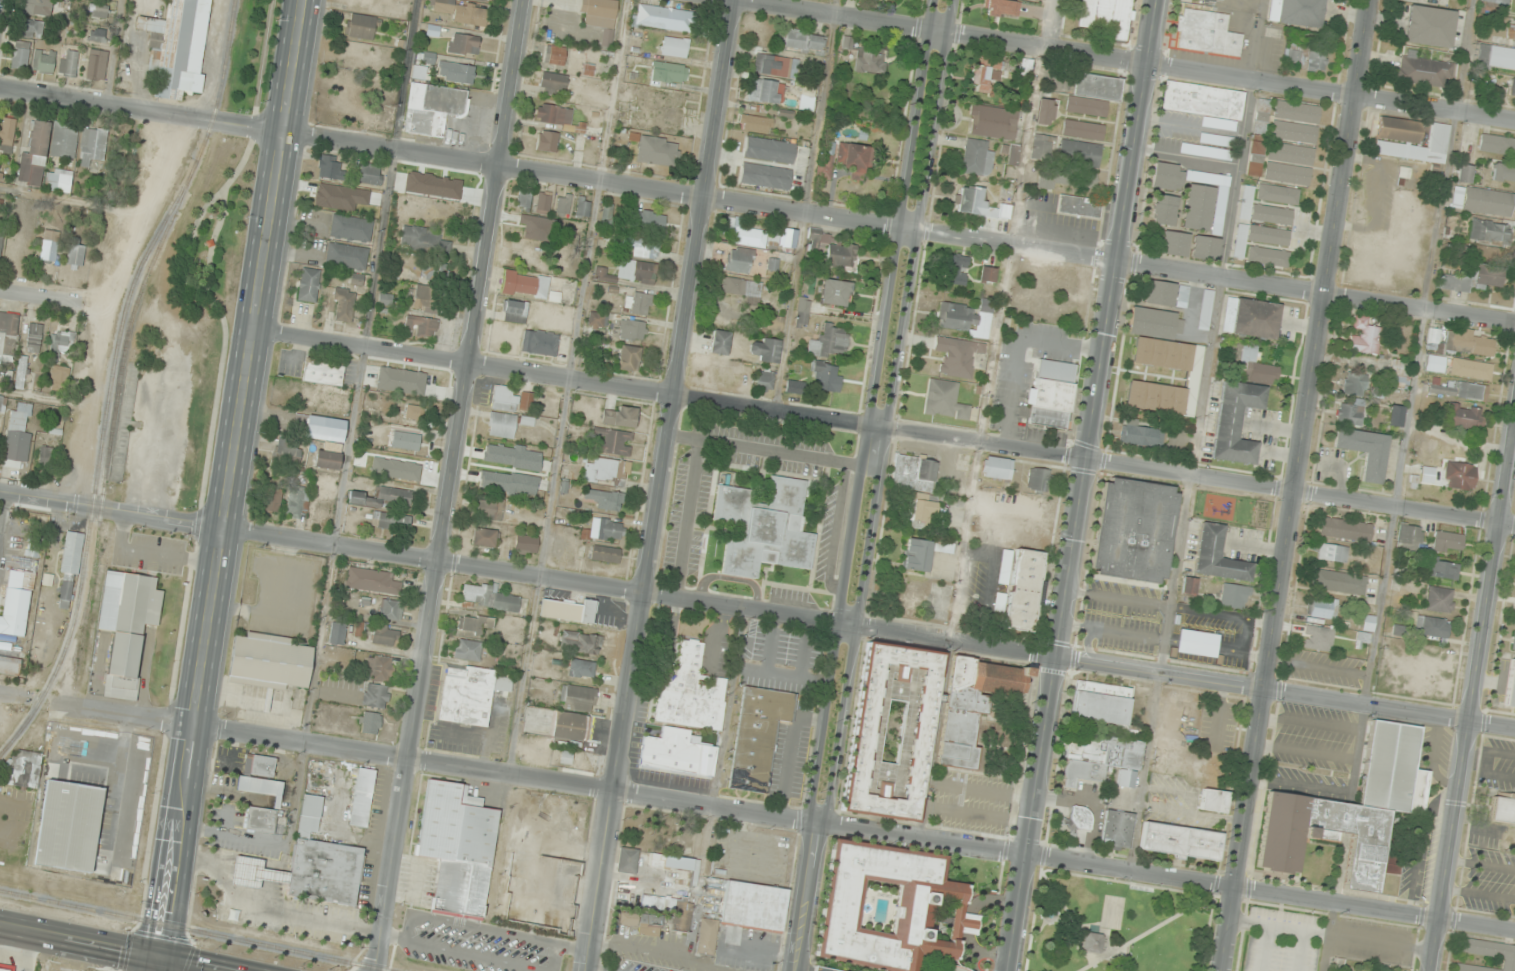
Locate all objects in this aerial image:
building: (484, 0)
building: (1212, 0)
building: (1497, 2)
building: (37, 7)
building: (98, 10)
building: (464, 12)
building: (1297, 13)
building: (600, 16)
building: (1107, 17)
building: (663, 18)
building: (360, 26)
building: (1429, 26)
building: (31, 29)
building: (1511, 32)
building: (1206, 33)
building: (98, 35)
building: (802, 40)
building: (847, 43)
building: (463, 44)
building: (177, 47)
building: (675, 47)
building: (20, 54)
building: (555, 55)
building: (427, 57)
building: (1304, 57)
building: (1496, 57)
road: (1118, 60)
building: (43, 61)
building: (870, 61)
building: (68, 62)
building: (96, 64)
building: (775, 66)
building: (1422, 71)
building: (419, 72)
building: (456, 72)
building: (668, 73)
building: (983, 79)
building: (553, 81)
building: (1512, 87)
building: (766, 92)
building: (1094, 94)
building: (1203, 102)
building: (433, 108)
building: (1045, 111)
building: (1296, 112)
building: (556, 116)
building: (992, 122)
building: (754, 123)
building: (1083, 130)
building: (1293, 132)
building: (7, 134)
building: (64, 140)
building: (1215, 140)
building: (1410, 140)
building: (548, 141)
building: (1043, 142)
building: (1497, 144)
building: (1272, 145)
building: (92, 146)
building: (768, 149)
building: (656, 150)
building: (35, 153)
building: (1079, 153)
building: (1012, 156)
building: (976, 158)
building: (844, 159)
building: (329, 167)
building: (1504, 172)
building: (1287, 173)
building: (1464, 173)
building: (370, 176)
building: (765, 176)
building: (1167, 177)
building: (1065, 178)
building: (1406, 178)
building: (58, 180)
building: (435, 184)
building: (1277, 194)
building: (325, 198)
building: (525, 200)
building: (1483, 201)
building: (543, 202)
building: (564, 204)
road: (757, 204)
building: (1079, 206)
building: (583, 207)
building: (1198, 207)
building: (982, 208)
building: (1164, 210)
building: (1262, 210)
building: (607, 213)
road: (912, 213)
building: (650, 220)
building: (351, 228)
road: (1118, 230)
building: (1489, 232)
building: (746, 234)
building: (788, 238)
building: (1257, 238)
building: (422, 239)
building: (813, 239)
building: (1, 242)
building: (1174, 244)
building: (49, 245)
building: (1205, 248)
building: (646, 249)
building: (76, 256)
building: (347, 256)
building: (842, 256)
building: (1267, 257)
building: (738, 260)
building: (434, 269)
building: (956, 270)
building: (636, 271)
building: (602, 274)
building: (987, 274)
building: (1471, 278)
building: (525, 284)
building: (308, 285)
railway: (132, 287)
building: (742, 288)
building: (835, 293)
building: (1160, 293)
building: (1182, 296)
building: (422, 297)
road: (48, 300)
building: (638, 304)
building: (343, 305)
building: (1205, 309)
building: (515, 311)
building: (802, 312)
building: (966, 317)
building: (1251, 318)
building: (596, 320)
building: (775, 323)
building: (421, 326)
building: (634, 330)
building: (8, 332)
building: (1364, 336)
building: (33, 337)
building: (1433, 339)
building: (720, 342)
building: (829, 342)
building: (63, 343)
building: (542, 343)
building: (1471, 344)
building: (765, 350)
building: (957, 356)
building: (629, 359)
building: (1435, 363)
building: (1163, 364)
building: (1258, 367)
building: (1400, 368)
building: (1468, 369)
building: (21, 372)
building: (323, 372)
building: (722, 373)
building: (826, 376)
building: (59, 377)
road: (565, 378)
building: (401, 380)
building: (764, 380)
building: (1355, 384)
building: (1456, 388)
building: (1051, 395)
building: (512, 399)
building: (944, 400)
building: (331, 402)
building: (1, 403)
building: (1350, 414)
building: (1395, 416)
building: (1465, 416)
building: (621, 417)
building: (1235, 422)
railway: (113, 425)
building: (501, 425)
building: (325, 428)
building: (18, 435)
building: (1143, 436)
building: (405, 440)
building: (614, 441)
road: (981, 443)
building: (1365, 451)
building: (47, 455)
building: (327, 455)
building: (286, 456)
building: (493, 466)
building: (997, 468)
building: (607, 471)
building: (913, 473)
building: (1459, 476)
road: (231, 480)
building: (1038, 480)
road: (451, 485)
road: (661, 485)
road: (1296, 485)
building: (527, 489)
road: (1298, 493)
building: (382, 497)
building: (273, 499)
building: (606, 499)
building: (296, 503)
building: (490, 509)
building: (321, 512)
building: (921, 512)
building: (391, 522)
building: (764, 527)
building: (1345, 529)
building: (610, 530)
building: (1134, 530)
building: (485, 537)
building: (1410, 537)
building: (1448, 542)
building: (525, 544)
building: (923, 553)
building: (1332, 553)
building: (605, 554)
building: (1217, 556)
building: (1442, 569)
building: (68, 570)
building: (371, 581)
building: (1338, 581)
parking lot: (17, 583)
building: (1189, 585)
building: (1023, 590)
building: (1234, 596)
building: (488, 597)
building: (1439, 599)
building: (15, 603)
building: (391, 609)
road: (757, 609)
building: (1322, 609)
building: (569, 611)
building: (474, 623)
building: (127, 626)
building: (1432, 626)
building: (337, 633)
building: (386, 635)
building: (1318, 638)
building: (1198, 642)
building: (1513, 642)
building: (580, 643)
building: (467, 649)
building: (269, 660)
building: (9, 665)
building: (379, 668)
building: (582, 668)
railway: (48, 676)
building: (1510, 686)
building: (691, 692)
building: (469, 693)
building: (376, 696)
road: (13, 698)
building: (578, 698)
road: (838, 699)
road: (1474, 700)
building: (1101, 703)
building: (973, 705)
road: (1043, 715)
building: (1181, 716)
building: (371, 723)
road: (1310, 723)
building: (571, 726)
building: (891, 732)
building: (758, 736)
road: (1306, 751)
building: (677, 753)
building: (1108, 764)
building: (259, 765)
building: (24, 768)
railway: (48, 781)
building: (258, 785)
road: (1346, 790)
building: (362, 797)
building: (1213, 801)
building: (1349, 809)
building: (1081, 818)
building: (260, 819)
road: (785, 819)
building: (68, 825)
building: (1118, 828)
park: (658, 832)
building: (1181, 841)
building: (457, 847)
building: (628, 860)
building: (309, 864)
building: (540, 893)
building: (929, 900)
building: (754, 906)
building: (681, 917)
building: (640, 920)
park: (1114, 924)
railway: (195, 931)
road: (1334, 934)
building: (707, 937)
road: (1327, 937)
parking lot: (1318, 940)
building: (1090, 943)
road: (81, 944)
road: (1264, 948)
road: (1300, 951)
building: (1487, 954)
traffic signals: (162, 962)
road: (159, 966)
road: (161, 966)
road: (186, 966)
building: (5, 967)

